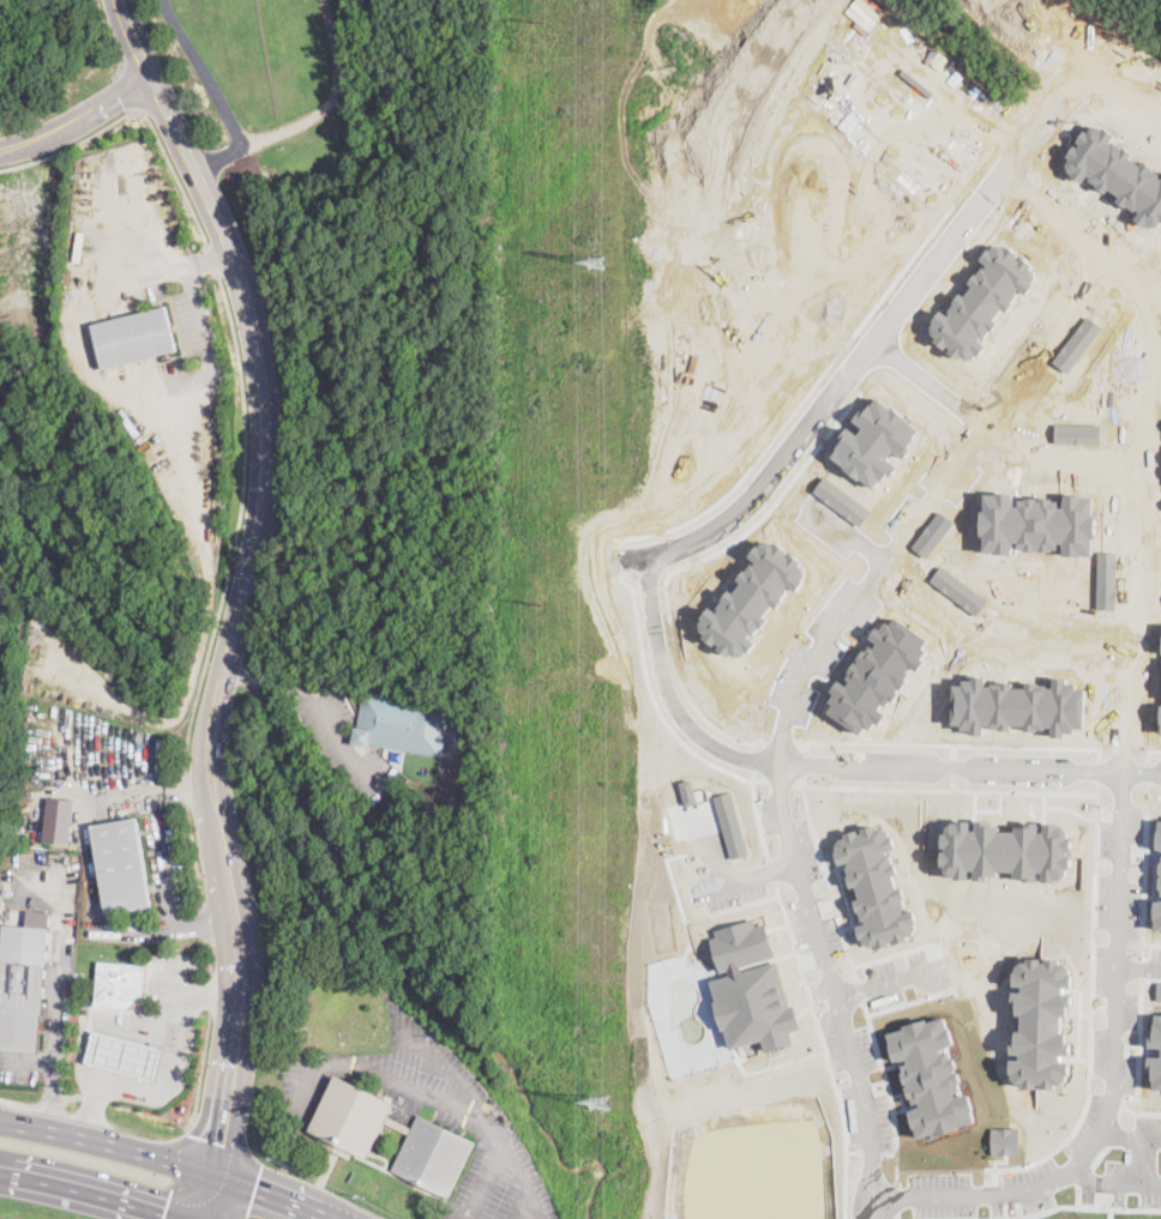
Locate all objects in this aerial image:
power tower: (541, 22)
road: (113, 41)
road: (1126, 77)
road: (128, 90)
road: (216, 92)
road: (332, 101)
road: (140, 110)
road: (79, 117)
road: (187, 262)
power tower: (594, 262)
road: (1145, 290)
building: (132, 338)
road: (874, 346)
road: (1148, 354)
road: (992, 434)
road: (239, 526)
road: (1147, 579)
road: (245, 598)
power tower: (542, 602)
road: (957, 614)
road: (273, 680)
road: (800, 690)
building: (357, 692)
building: (402, 723)
building: (455, 725)
road: (345, 748)
building: (397, 755)
road: (834, 767)
road: (149, 779)
road: (1126, 783)
road: (186, 789)
building: (59, 826)
road: (714, 849)
road: (194, 858)
road: (157, 861)
building: (122, 865)
road: (752, 876)
road: (205, 922)
road: (206, 923)
road: (210, 954)
road: (1141, 966)
road: (59, 972)
building: (119, 984)
road: (896, 985)
building: (24, 988)
road: (211, 990)
road: (98, 1022)
building: (125, 1055)
gas station: (125, 1055)
road: (272, 1062)
road: (201, 1069)
road: (173, 1073)
road: (50, 1093)
power tower: (600, 1102)
road: (453, 1103)
road: (222, 1132)
building: (350, 1136)
road: (1130, 1137)
traffic signals: (224, 1152)
road: (172, 1158)
road: (178, 1172)
road: (249, 1179)
road: (522, 1179)
road: (1114, 1183)
traffic signals: (255, 1185)
road: (83, 1194)
road: (870, 1208)
road: (877, 1208)
traffic signals: (162, 1218)
road: (456, 1218)
road: (458, 1218)

